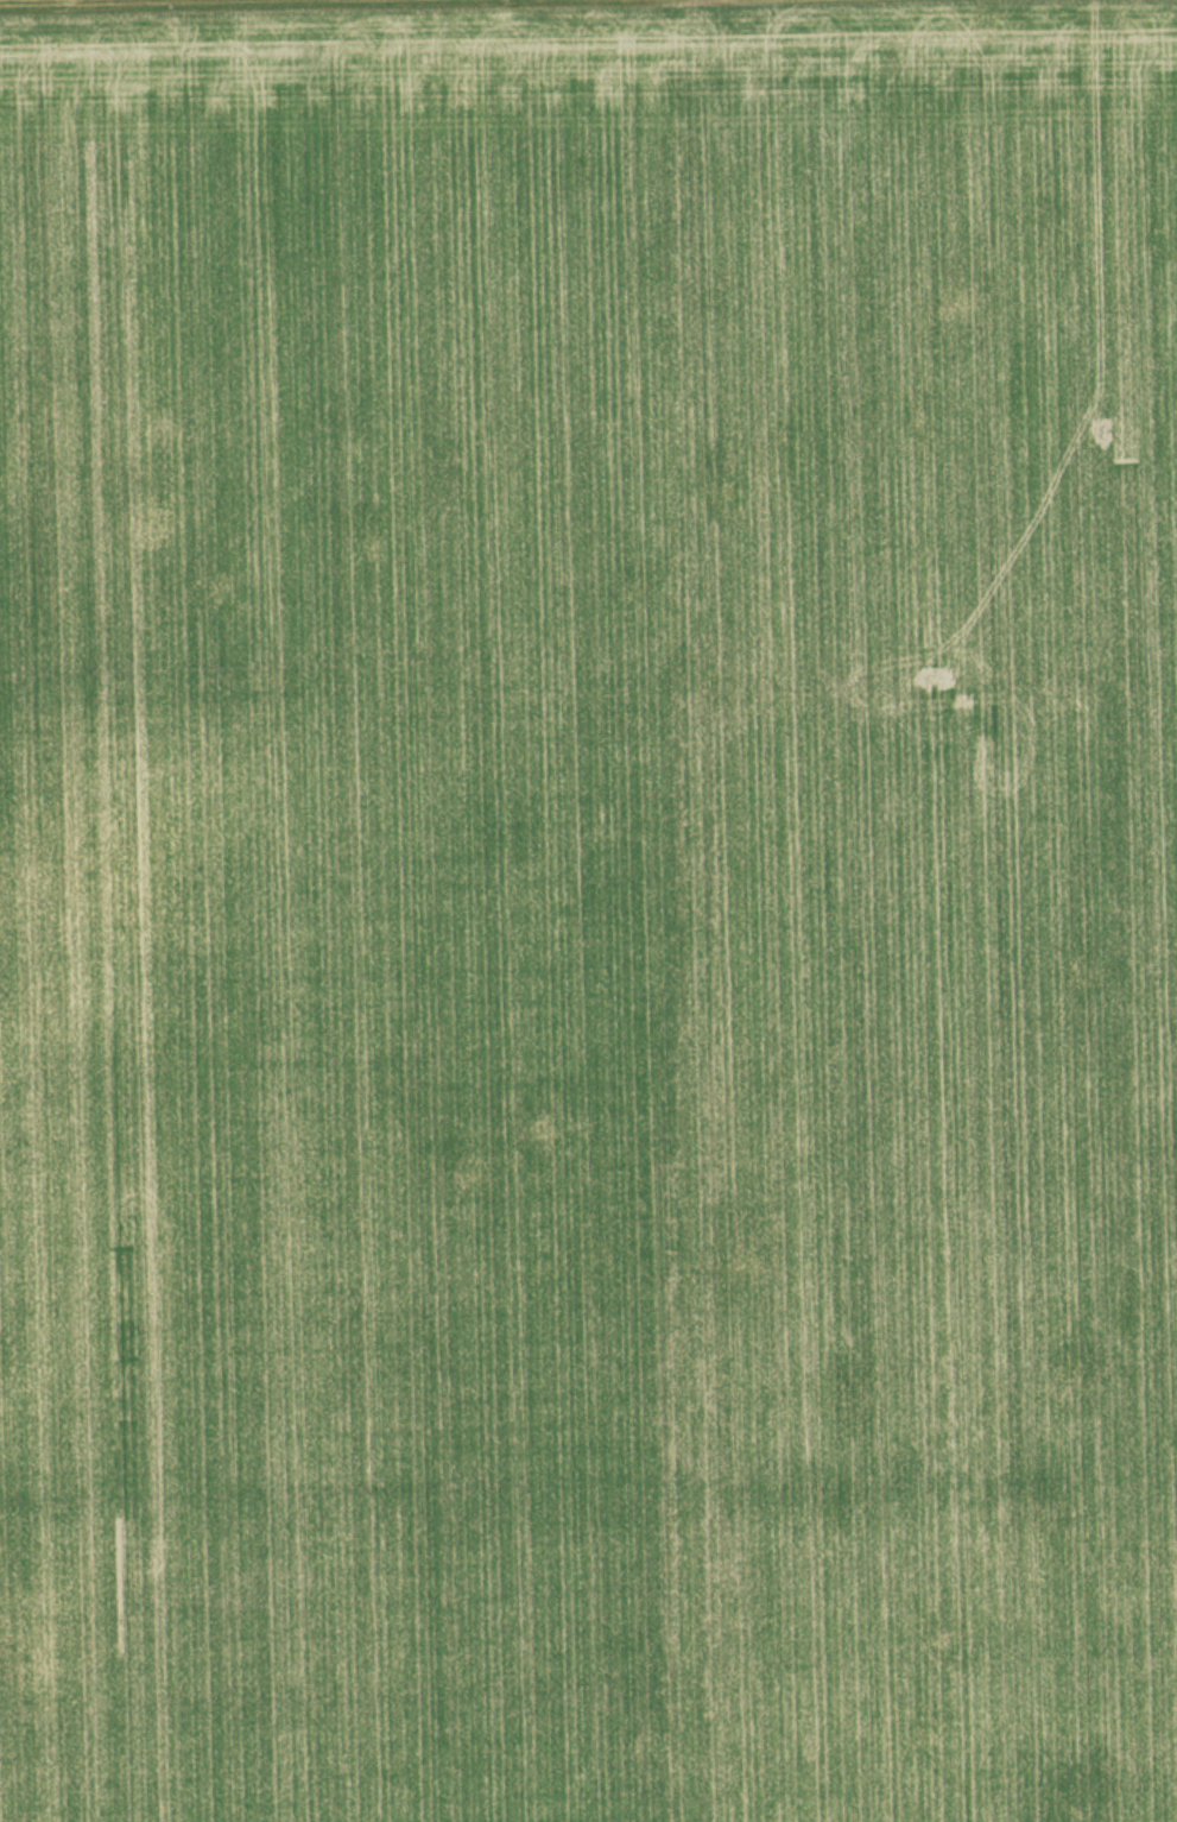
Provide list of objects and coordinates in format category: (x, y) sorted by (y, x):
crop: (589, 918)

